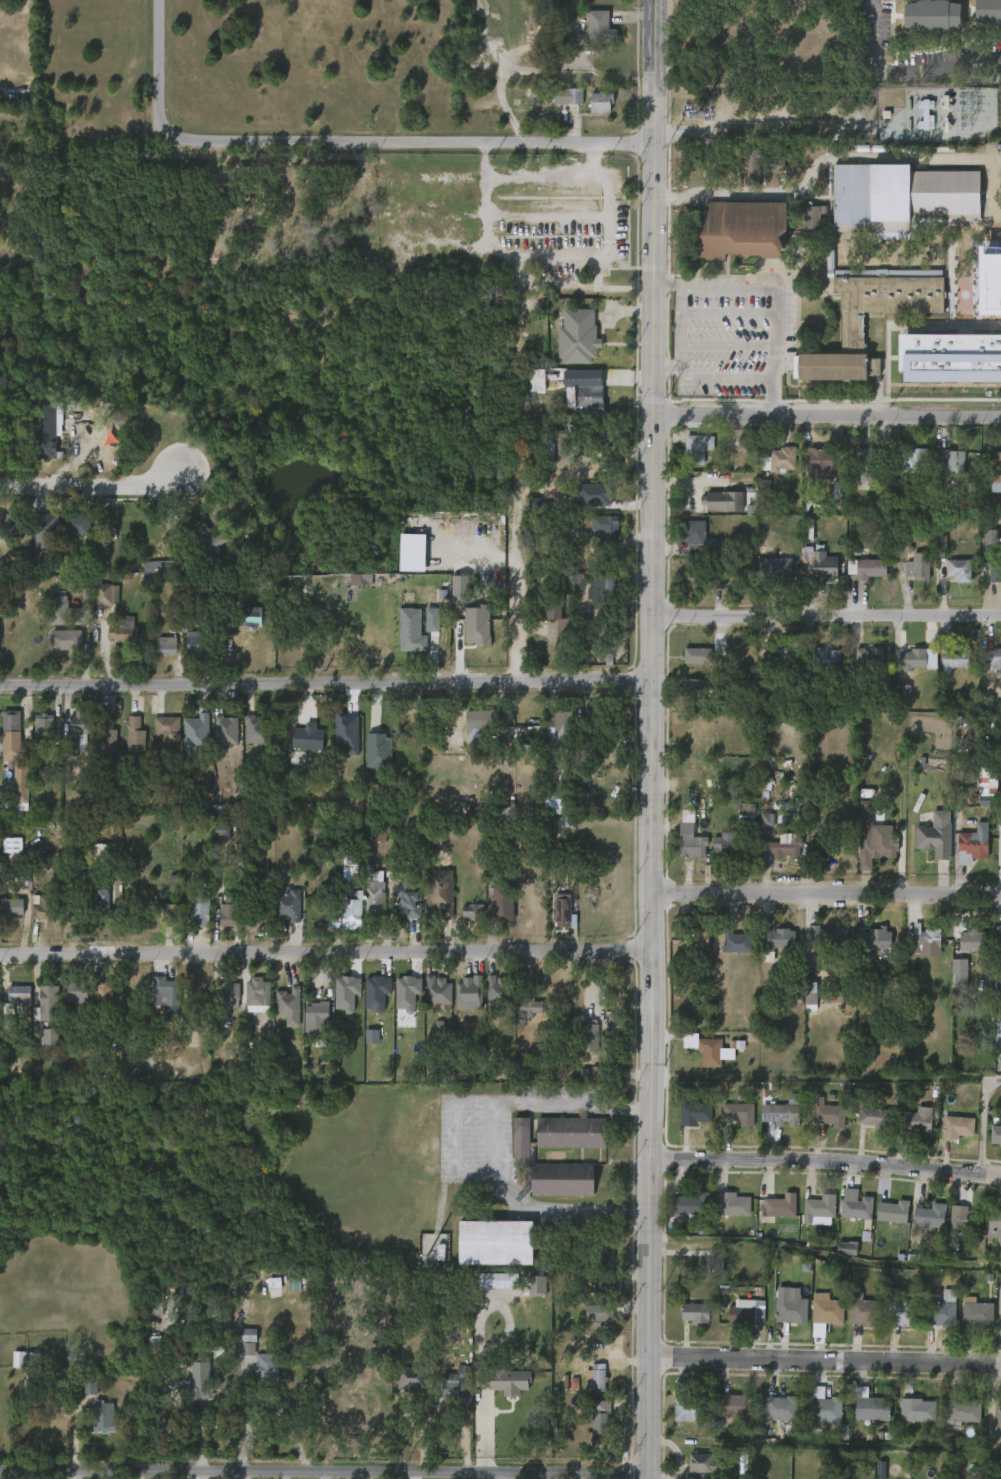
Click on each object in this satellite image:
building: (604, 2)
building: (987, 10)
building: (928, 13)
building: (601, 28)
road: (161, 33)
road: (907, 71)
road: (515, 75)
building: (567, 96)
building: (598, 101)
road: (378, 142)
building: (753, 165)
building: (777, 167)
building: (902, 196)
building: (811, 218)
building: (744, 229)
building: (987, 285)
road: (766, 291)
building: (881, 293)
road: (725, 312)
parking lot: (724, 328)
building: (576, 337)
road: (678, 341)
road: (724, 345)
building: (947, 361)
building: (833, 368)
road: (721, 379)
building: (537, 381)
building: (586, 397)
road: (771, 408)
road: (826, 416)
building: (52, 425)
building: (2, 432)
building: (605, 433)
building: (559, 443)
building: (698, 448)
building: (780, 458)
building: (914, 460)
building: (742, 461)
building: (819, 461)
building: (953, 463)
building: (868, 464)
building: (996, 467)
road: (522, 471)
road: (92, 487)
building: (593, 495)
building: (724, 501)
building: (47, 525)
building: (10, 526)
building: (79, 527)
building: (603, 527)
building: (991, 537)
building: (699, 538)
building: (204, 539)
building: (941, 542)
building: (412, 553)
building: (821, 564)
building: (917, 566)
building: (158, 567)
building: (776, 568)
building: (869, 568)
building: (959, 570)
building: (994, 571)
building: (361, 580)
building: (704, 580)
building: (601, 586)
building: (460, 589)
building: (106, 594)
building: (547, 607)
building: (58, 610)
road: (825, 616)
building: (252, 618)
building: (432, 620)
building: (477, 626)
building: (123, 630)
building: (411, 631)
building: (66, 639)
building: (167, 645)
building: (193, 645)
building: (698, 657)
building: (871, 658)
building: (952, 658)
building: (993, 658)
building: (910, 659)
building: (825, 661)
building: (779, 662)
road: (325, 682)
building: (694, 692)
building: (856, 692)
building: (902, 692)
building: (481, 720)
building: (560, 724)
building: (11, 725)
building: (45, 726)
building: (168, 729)
building: (257, 730)
building: (226, 731)
building: (80, 733)
building: (198, 735)
building: (593, 735)
building: (107, 739)
building: (309, 739)
road: (649, 739)
building: (136, 741)
building: (452, 742)
building: (378, 752)
building: (565, 772)
building: (24, 781)
building: (987, 782)
building: (552, 801)
building: (865, 808)
building: (744, 813)
building: (558, 822)
building: (221, 832)
building: (934, 839)
building: (692, 842)
building: (729, 844)
building: (12, 845)
building: (971, 846)
building: (779, 847)
building: (823, 847)
building: (875, 851)
building: (102, 860)
road: (1000, 868)
building: (440, 893)
road: (825, 894)
building: (374, 898)
building: (500, 903)
building: (104, 905)
building: (407, 905)
building: (288, 906)
building: (13, 907)
building: (48, 908)
building: (559, 910)
building: (76, 912)
building: (200, 912)
building: (472, 912)
building: (168, 914)
building: (350, 914)
building: (229, 915)
building: (259, 916)
building: (334, 922)
building: (829, 936)
building: (776, 938)
building: (875, 938)
building: (997, 938)
building: (696, 940)
building: (925, 940)
building: (972, 940)
building: (735, 942)
road: (324, 954)
building: (960, 974)
building: (497, 990)
building: (166, 991)
building: (436, 991)
building: (74, 992)
building: (245, 992)
building: (346, 993)
building: (377, 993)
building: (407, 993)
building: (467, 994)
building: (811, 994)
building: (23, 995)
building: (104, 995)
building: (51, 1004)
building: (291, 1006)
building: (529, 1006)
building: (320, 1017)
building: (618, 1029)
building: (49, 1038)
building: (589, 1039)
building: (711, 1051)
building: (696, 1113)
building: (738, 1113)
building: (783, 1114)
building: (829, 1115)
building: (876, 1118)
building: (917, 1120)
building: (956, 1125)
road: (983, 1125)
building: (571, 1132)
building: (995, 1133)
building: (522, 1137)
road: (457, 1144)
road: (824, 1162)
building: (559, 1180)
building: (692, 1204)
building: (730, 1204)
building: (778, 1206)
building: (818, 1206)
building: (854, 1206)
building: (892, 1212)
building: (927, 1215)
building: (963, 1218)
building: (994, 1224)
building: (490, 1244)
building: (847, 1248)
building: (713, 1261)
building: (274, 1284)
building: (537, 1285)
building: (603, 1285)
building: (156, 1301)
building: (793, 1309)
building: (941, 1309)
building: (903, 1310)
building: (696, 1312)
building: (867, 1312)
building: (976, 1312)
building: (827, 1313)
building: (605, 1314)
building: (742, 1315)
road: (999, 1327)
building: (249, 1341)
road: (823, 1361)
building: (267, 1367)
building: (410, 1377)
building: (599, 1377)
building: (201, 1378)
building: (509, 1379)
building: (33, 1380)
building: (455, 1382)
building: (90, 1387)
building: (736, 1405)
building: (871, 1406)
road: (264, 1407)
building: (690, 1407)
building: (780, 1407)
building: (825, 1408)
building: (999, 1408)
building: (915, 1409)
building: (963, 1412)
building: (103, 1417)
building: (600, 1421)
building: (702, 1462)
building: (849, 1463)
road: (321, 1470)
building: (880, 1470)
road: (517, 1475)

